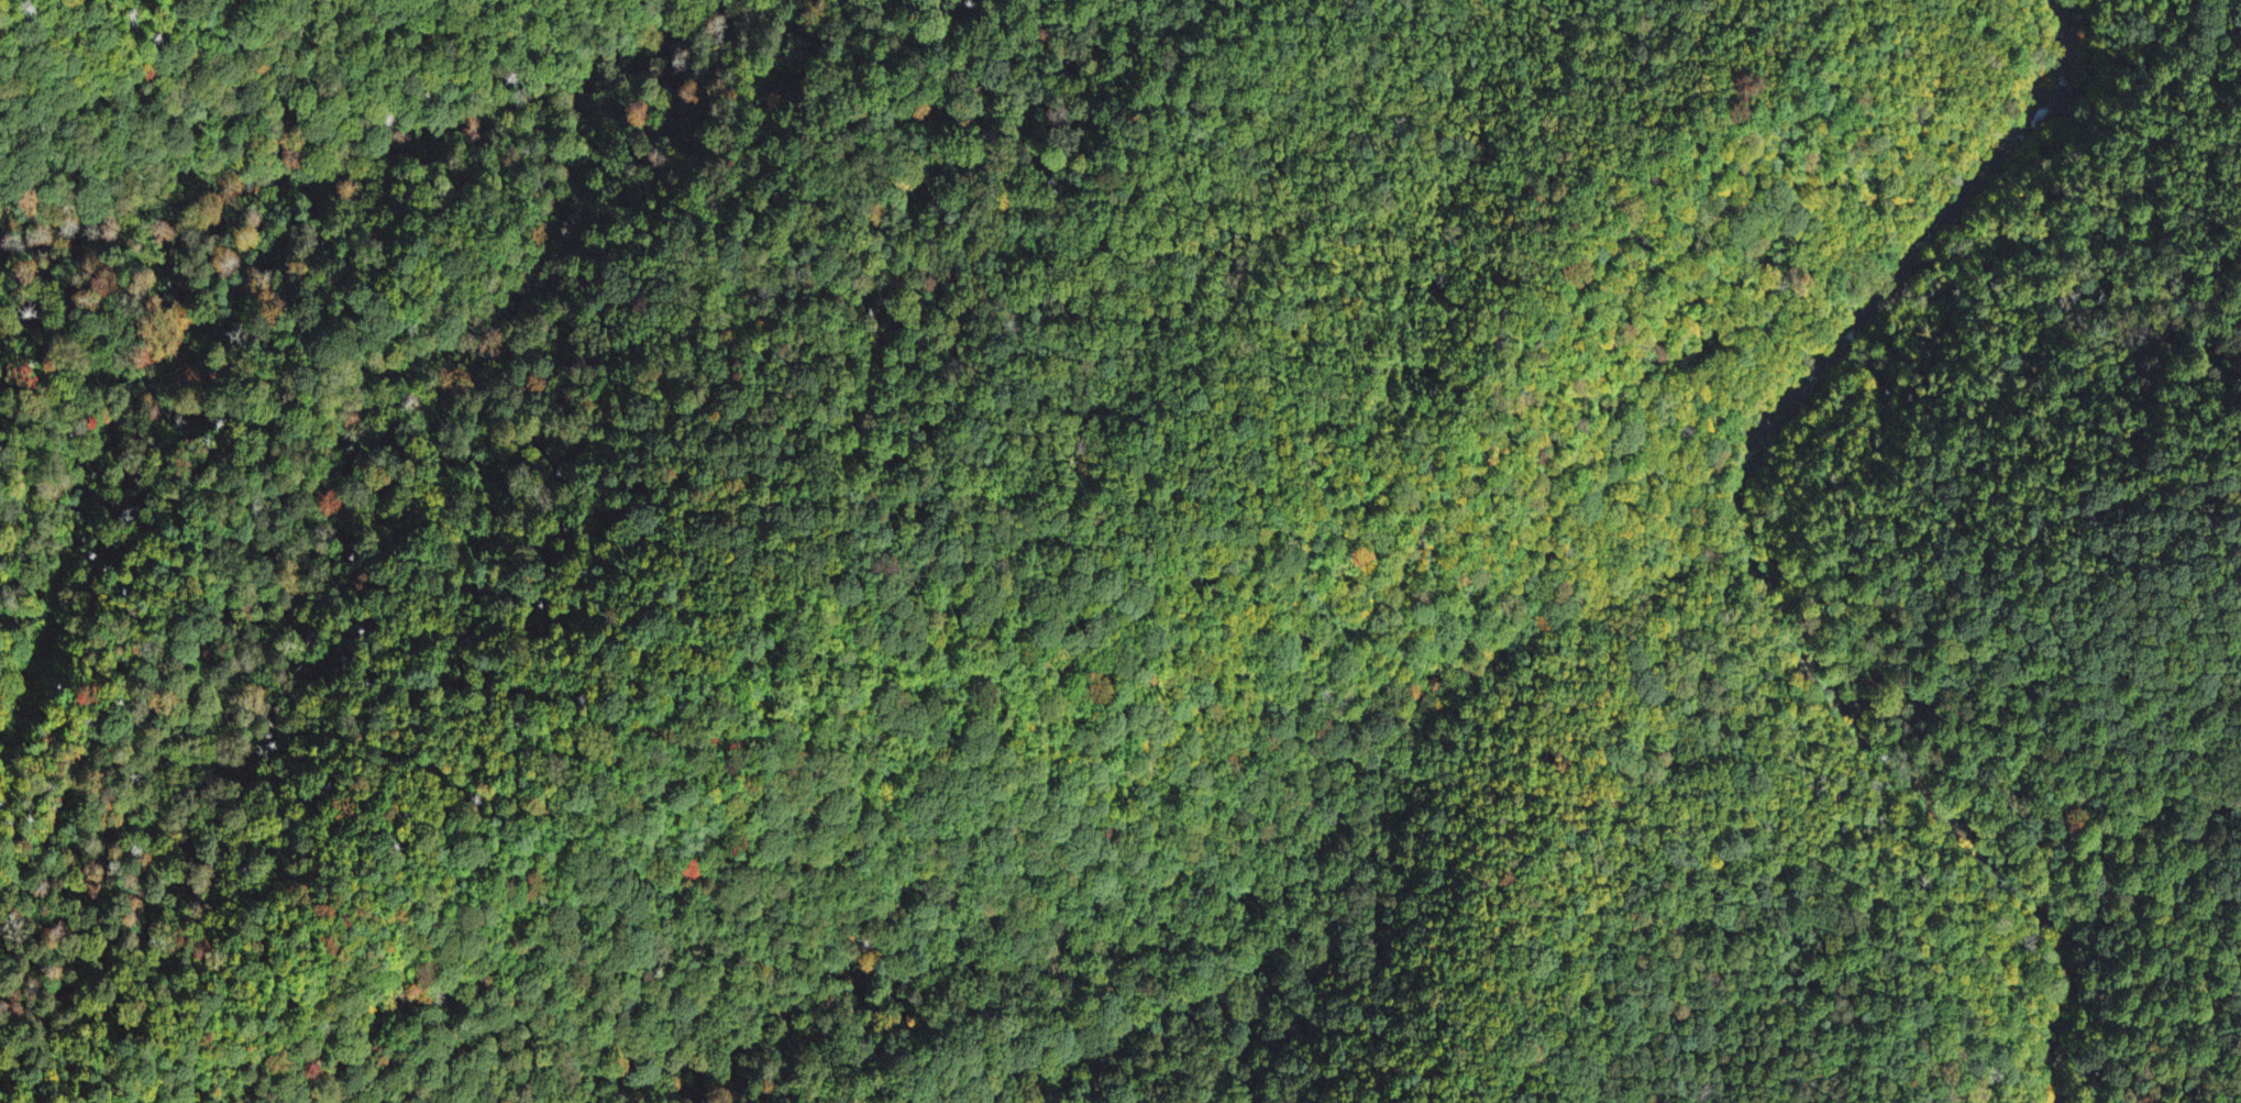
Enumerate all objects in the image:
river: (1760, 541)
road: (1784, 543)

